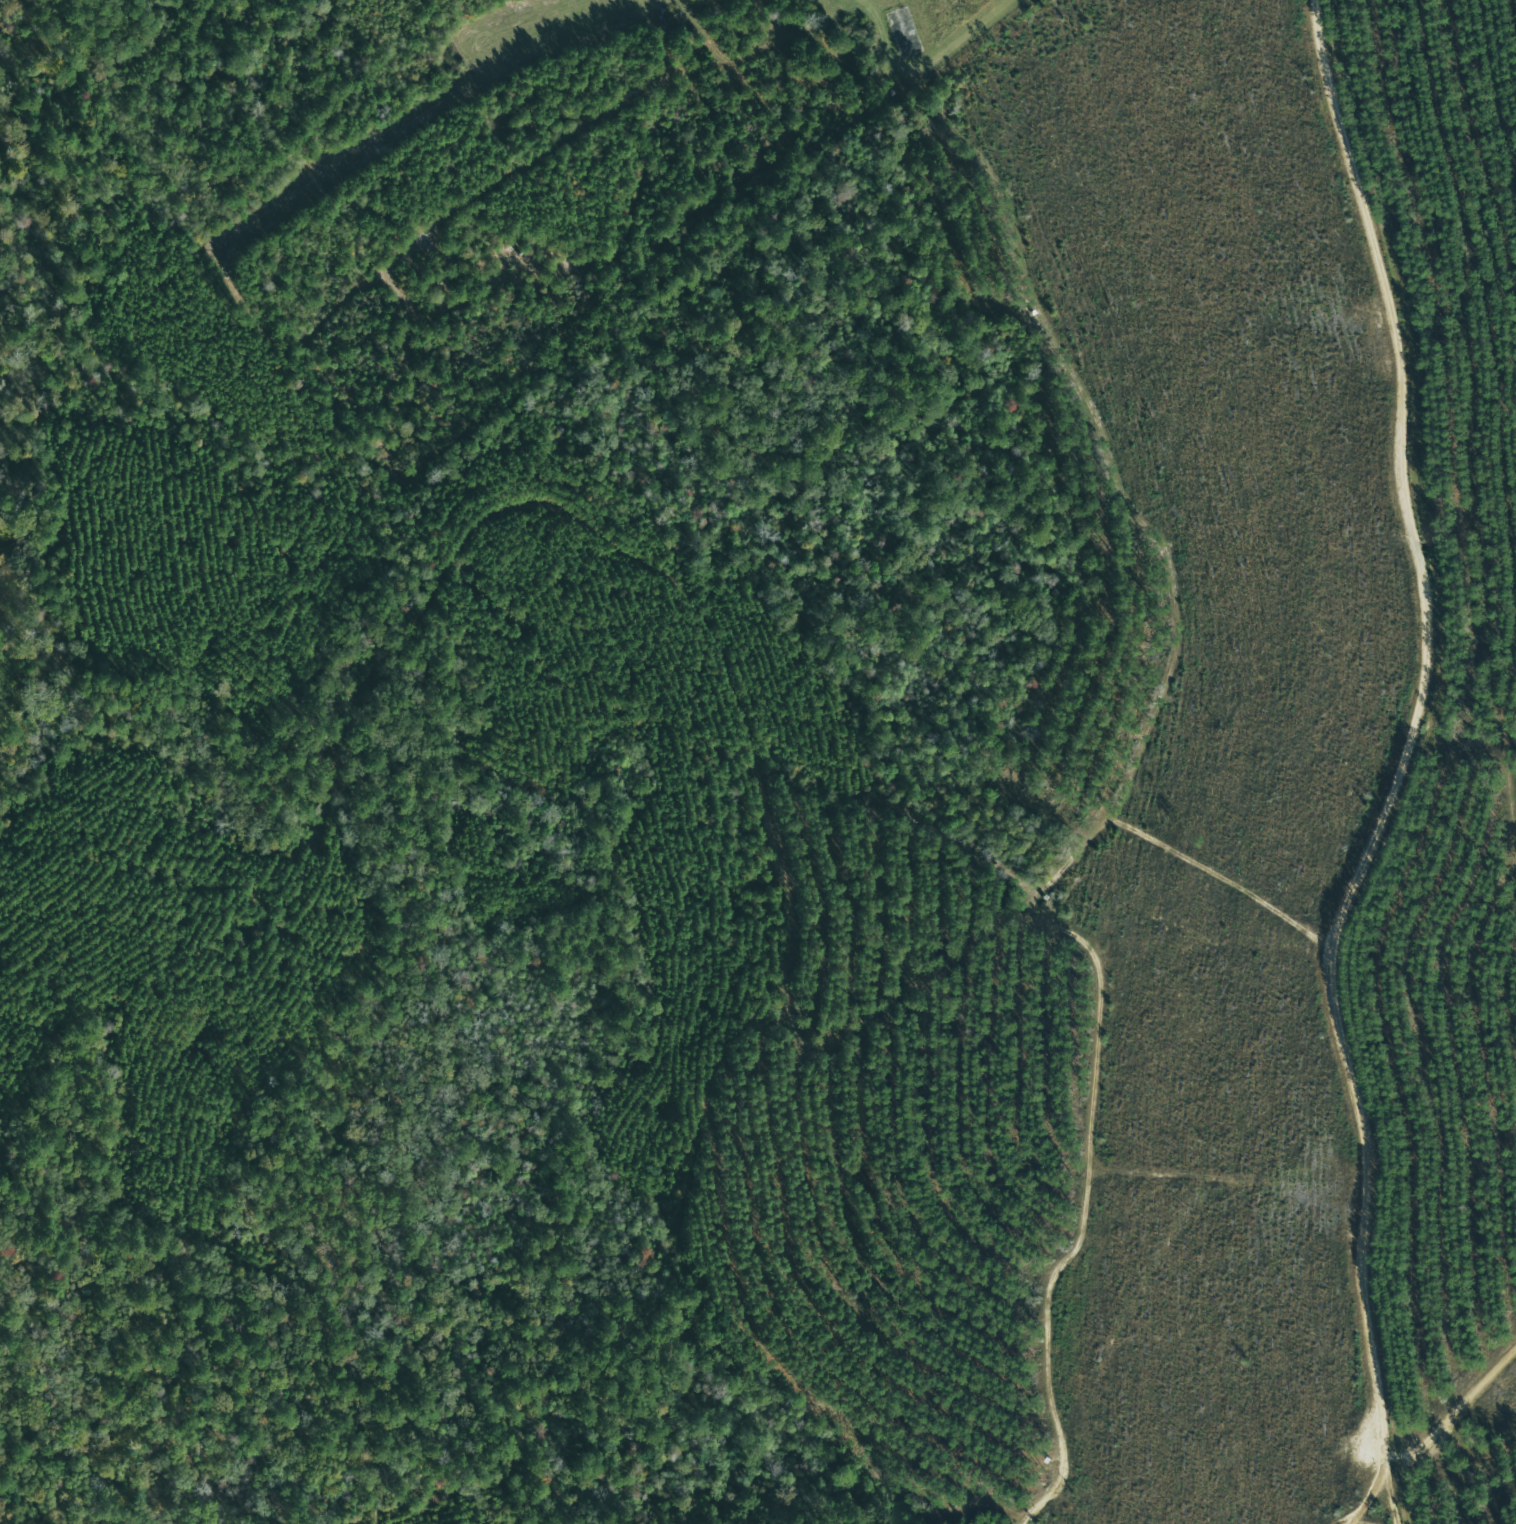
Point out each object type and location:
building: (903, 30)
road: (1377, 767)
road: (1434, 1419)

